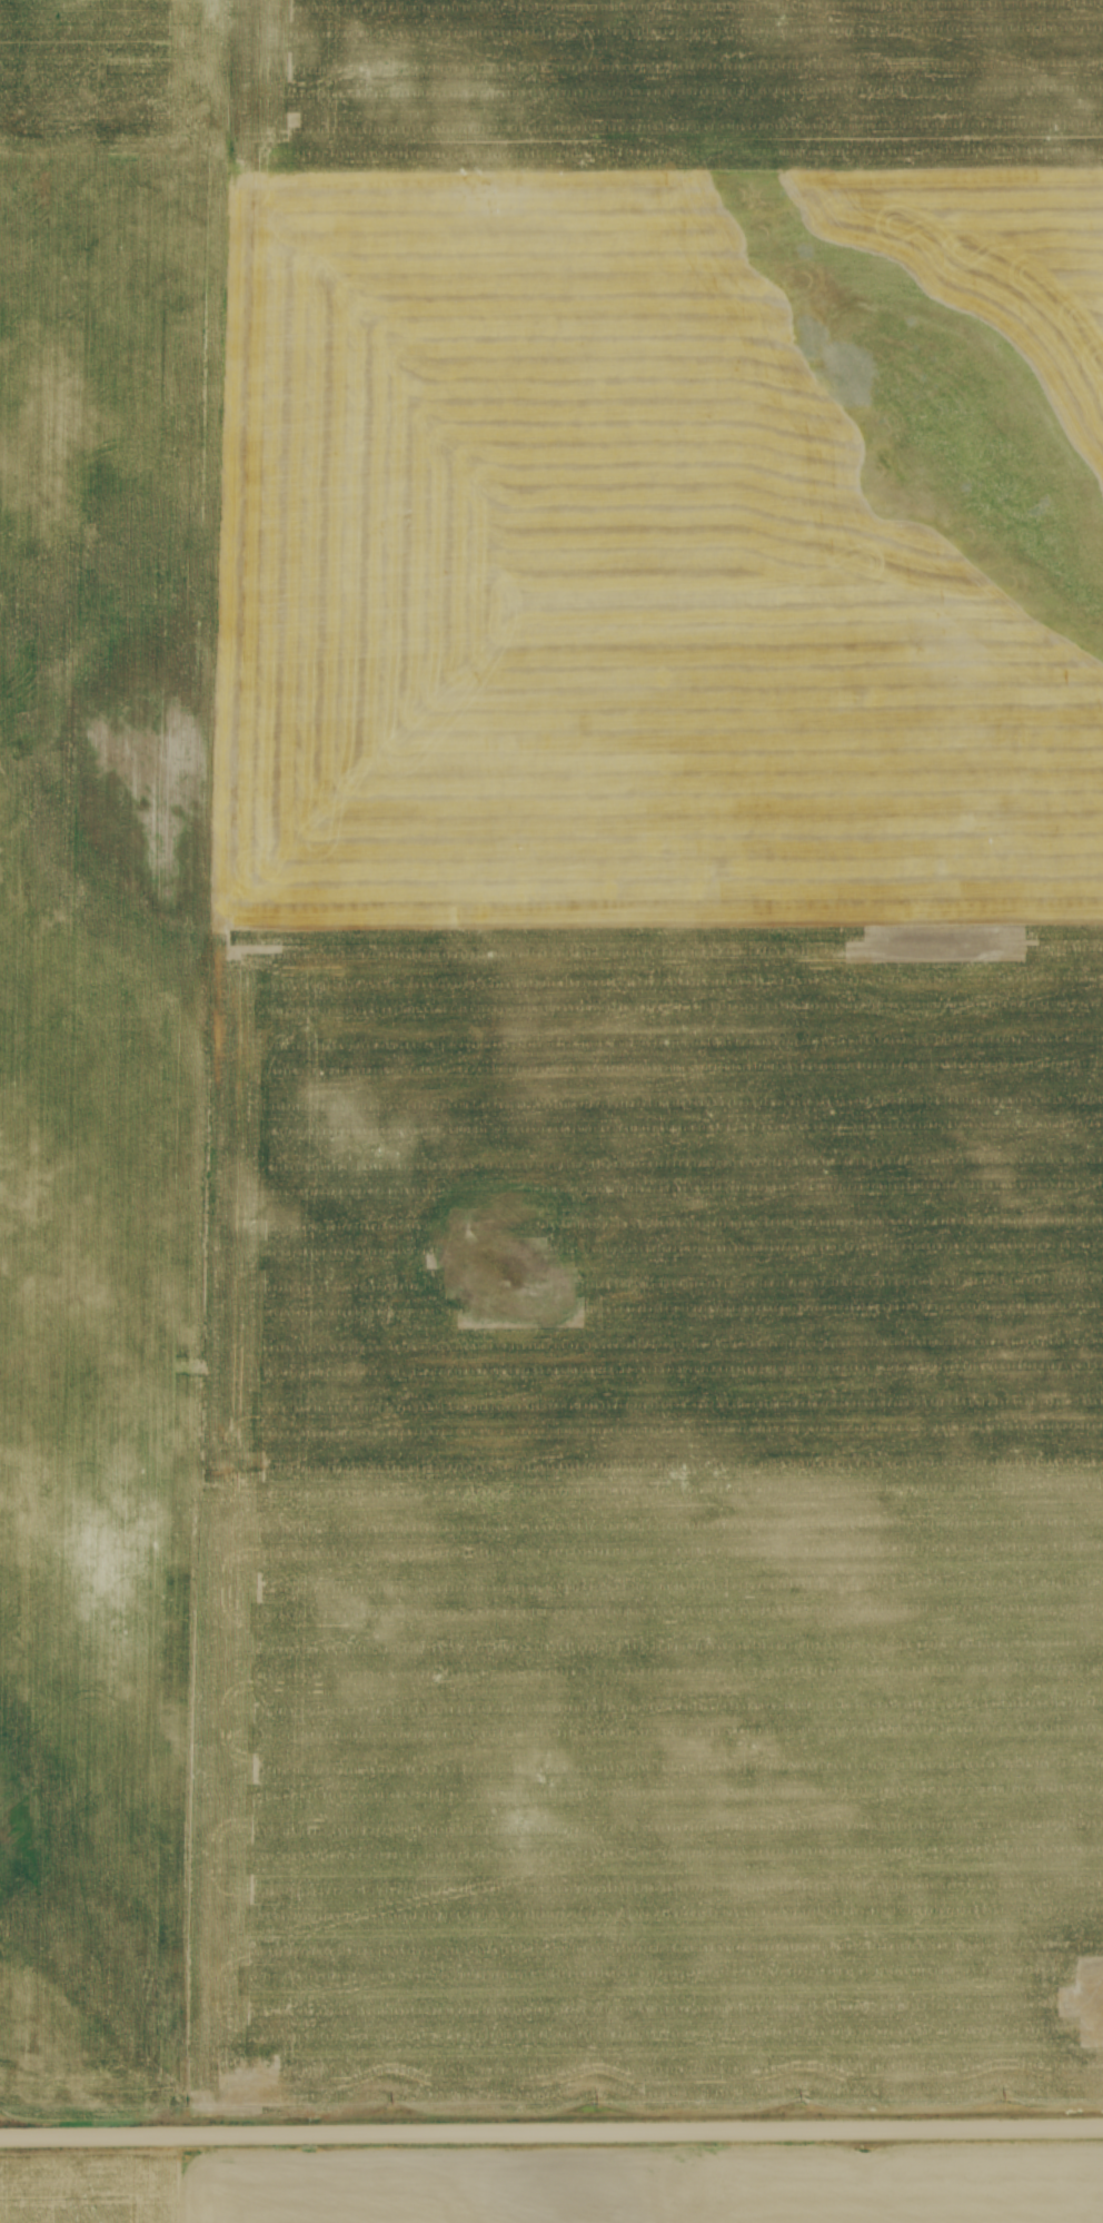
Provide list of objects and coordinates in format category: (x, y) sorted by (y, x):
road: (551, 2134)

